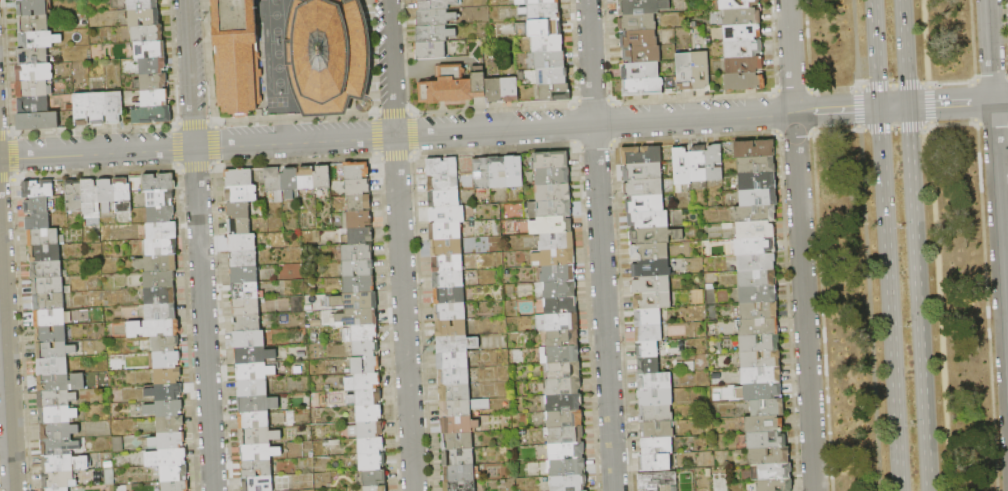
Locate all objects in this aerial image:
building: (27, 0)
building: (521, 2)
building: (543, 2)
building: (437, 4)
building: (739, 4)
building: (133, 5)
building: (642, 7)
building: (32, 8)
building: (542, 11)
building: (741, 16)
building: (144, 18)
building: (435, 18)
building: (637, 23)
building: (33, 24)
building: (545, 28)
building: (743, 33)
building: (148, 34)
building: (434, 34)
building: (639, 39)
building: (38, 40)
road: (925, 41)
building: (547, 43)
road: (853, 43)
building: (150, 50)
building: (744, 50)
building: (430, 51)
road: (875, 53)
road: (904, 53)
building: (328, 55)
building: (642, 55)
building: (32, 56)
building: (550, 60)
building: (239, 62)
road: (424, 63)
building: (745, 65)
building: (153, 66)
building: (640, 71)
building: (701, 71)
building: (685, 72)
building: (34, 73)
building: (552, 76)
building: (154, 82)
building: (479, 82)
building: (745, 82)
road: (891, 83)
building: (447, 87)
building: (644, 87)
building: (34, 89)
building: (509, 90)
building: (493, 91)
building: (555, 92)
building: (155, 98)
road: (958, 103)
road: (928, 104)
building: (33, 105)
road: (893, 106)
traffic signals: (908, 106)
traffic signals: (879, 107)
building: (115, 108)
road: (856, 108)
building: (98, 109)
building: (82, 110)
building: (152, 115)
building: (37, 121)
road: (894, 128)
road: (439, 131)
building: (755, 149)
building: (641, 155)
building: (550, 160)
building: (677, 162)
building: (714, 162)
building: (698, 164)
building: (757, 165)
building: (442, 167)
building: (356, 170)
building: (515, 172)
building: (643, 172)
building: (498, 173)
building: (482, 174)
building: (239, 177)
building: (322, 177)
building: (553, 177)
building: (306, 178)
building: (757, 181)
building: (158, 182)
building: (290, 182)
building: (274, 183)
building: (443, 183)
building: (357, 187)
building: (644, 188)
road: (997, 188)
building: (38, 189)
building: (554, 193)
building: (242, 194)
building: (106, 195)
building: (123, 195)
building: (74, 196)
building: (89, 196)
building: (758, 197)
building: (160, 198)
building: (443, 199)
building: (359, 203)
building: (645, 204)
building: (37, 206)
building: (550, 209)
building: (238, 210)
building: (160, 214)
building: (755, 214)
building: (447, 215)
building: (649, 219)
building: (359, 220)
building: (38, 222)
building: (550, 225)
building: (239, 226)
building: (162, 230)
building: (755, 230)
building: (445, 231)
building: (655, 235)
building: (360, 236)
building: (44, 238)
building: (557, 241)
building: (242, 242)
park: (900, 244)
road: (199, 245)
road: (400, 245)
road: (600, 245)
road: (801, 245)
building: (753, 246)
building: (161, 247)
building: (447, 247)
building: (357, 252)
building: (650, 252)
building: (45, 254)
building: (555, 257)
building: (243, 258)
building: (756, 262)
building: (157, 263)
building: (449, 264)
building: (359, 268)
building: (652, 269)
building: (46, 270)
building: (558, 274)
building: (244, 275)
building: (756, 278)
building: (160, 280)
building: (448, 280)
building: (359, 284)
building: (652, 285)
building: (49, 286)
building: (560, 290)
building: (245, 291)
building: (758, 294)
building: (160, 296)
building: (449, 296)
road: (918, 298)
road: (889, 299)
building: (355, 301)
building: (653, 301)
building: (49, 302)
building: (561, 306)
building: (246, 307)
road: (940, 309)
building: (759, 310)
road: (868, 311)
building: (161, 312)
building: (450, 312)
building: (358, 317)
building: (648, 317)
building: (50, 318)
building: (558, 322)
building: (247, 323)
building: (758, 327)
building: (451, 328)
building: (154, 329)
building: (649, 333)
building: (360, 334)
building: (51, 335)
building: (562, 338)
building: (249, 339)
building: (759, 343)
building: (165, 344)
building: (457, 344)
building: (366, 349)
building: (648, 349)
building: (54, 351)
building: (563, 354)
building: (254, 355)
building: (760, 359)
building: (166, 360)
building: (453, 360)
building: (365, 365)
building: (648, 365)
building: (53, 367)
road: (6, 369)
building: (564, 370)
building: (254, 372)
building: (168, 376)
building: (761, 376)
building: (454, 377)
building: (654, 381)
building: (363, 382)
building: (61, 383)
building: (563, 387)
building: (252, 388)
building: (165, 392)
building: (762, 392)
building: (454, 393)
building: (365, 398)
building: (655, 398)
building: (56, 399)
building: (564, 403)
building: (257, 404)
building: (164, 408)
building: (463, 408)
building: (768, 408)
building: (369, 413)
building: (656, 414)
building: (58, 415)
building: (565, 419)
building: (254, 420)
building: (170, 424)
building: (764, 424)
building: (458, 425)
building: (367, 430)
building: (657, 430)
building: (59, 431)
building: (566, 435)
building: (259, 436)
building: (766, 440)
building: (168, 441)
building: (457, 441)
building: (370, 446)
building: (656, 446)
building: (59, 447)
building: (566, 451)
building: (259, 452)
building: (770, 456)
building: (458, 457)
building: (166, 458)
building: (371, 462)
building: (64, 463)
building: (655, 463)
building: (567, 467)
building: (256, 468)
building: (775, 472)
building: (174, 473)
building: (459, 474)
building: (375, 478)
building: (57, 480)
building: (657, 480)
building: (257, 483)
building: (569, 483)
building: (775, 485)
building: (176, 486)
building: (460, 486)
building: (376, 488)
building: (669, 488)
building: (57, 489)

